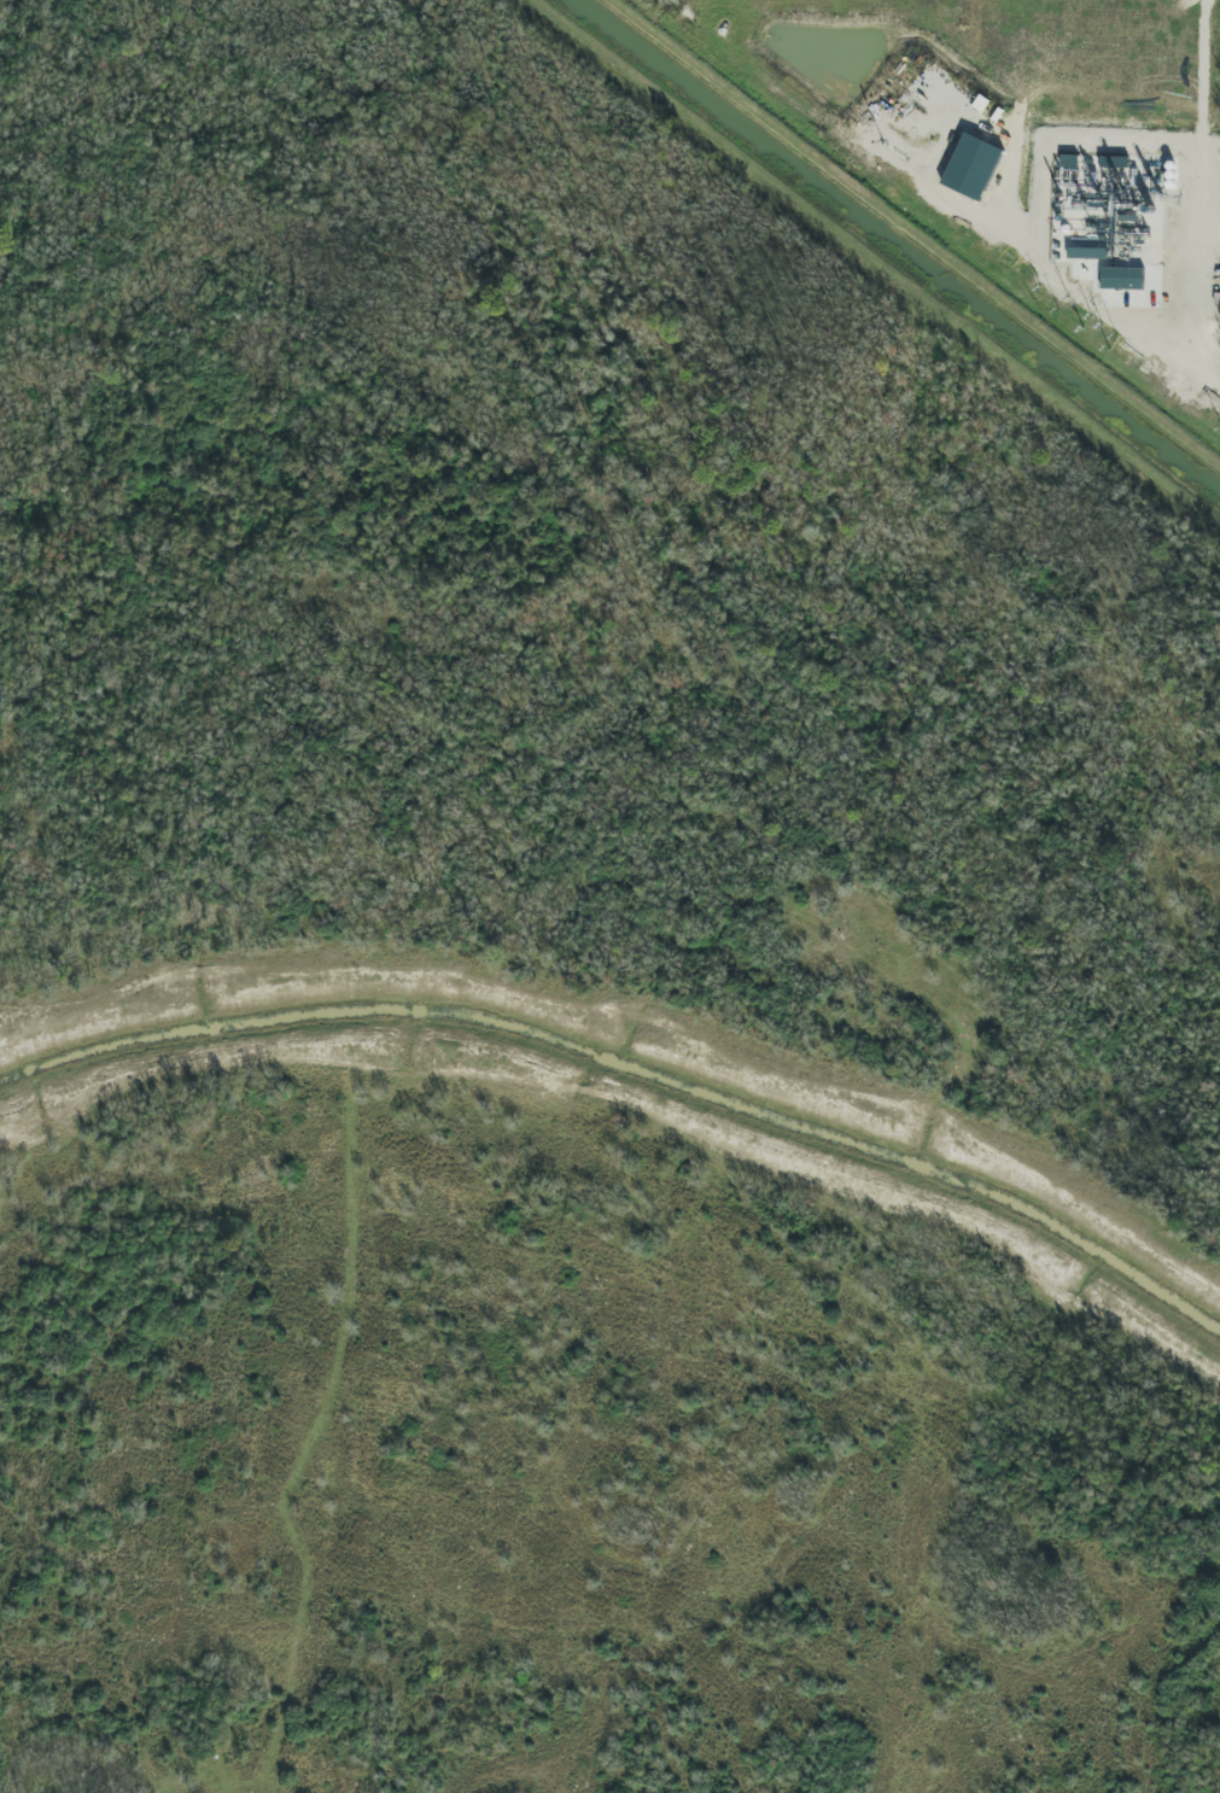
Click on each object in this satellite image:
building: (973, 167)
building: (1122, 278)
road: (1076, 288)

